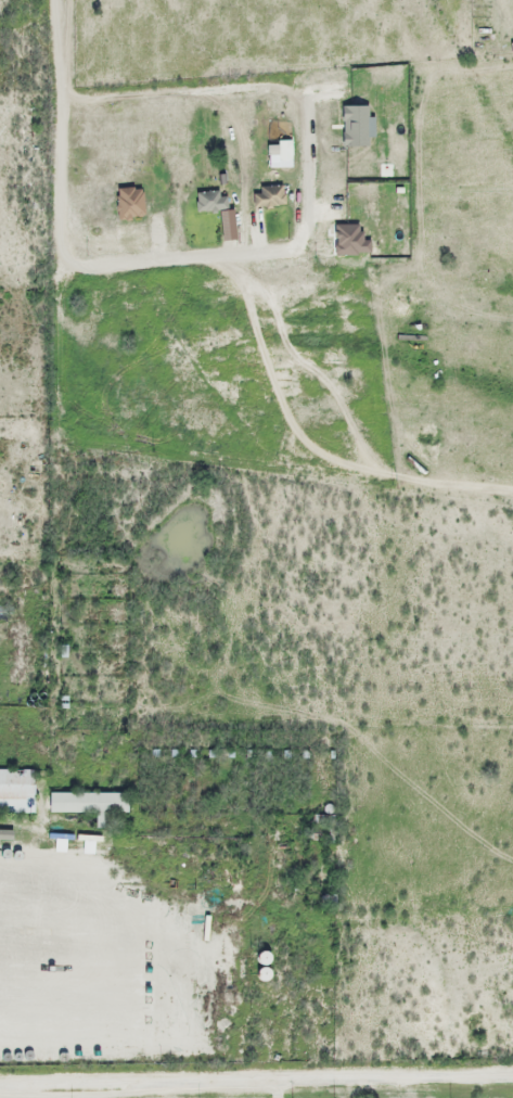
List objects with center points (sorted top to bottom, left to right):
building: (15, 792)
building: (86, 804)
road: (256, 1080)

